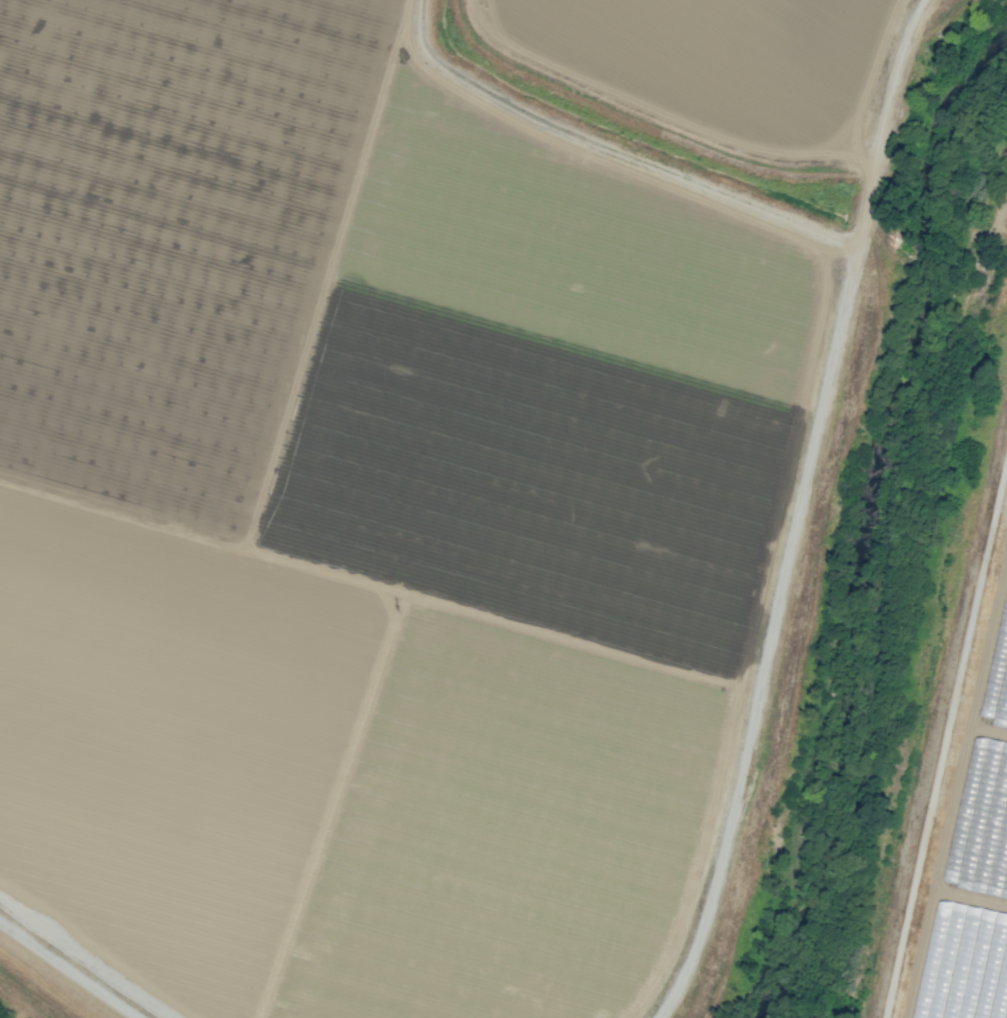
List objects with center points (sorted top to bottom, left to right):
crop: (782, 9)
crop: (995, 11)
river: (978, 204)
crop: (445, 444)
river: (871, 648)
crop: (970, 862)

